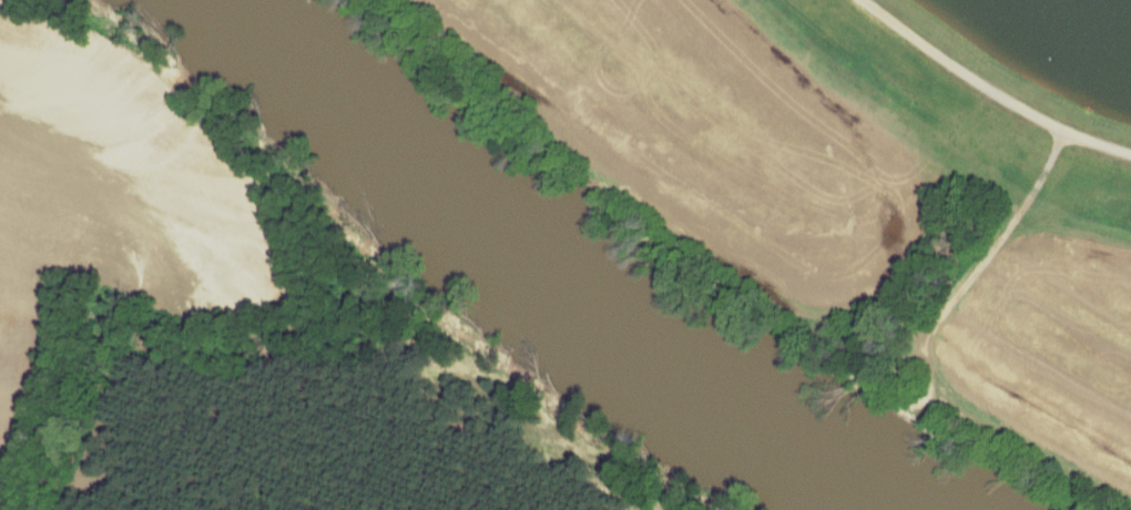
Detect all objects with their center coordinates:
road: (989, 89)
river: (572, 271)
road: (760, 289)

